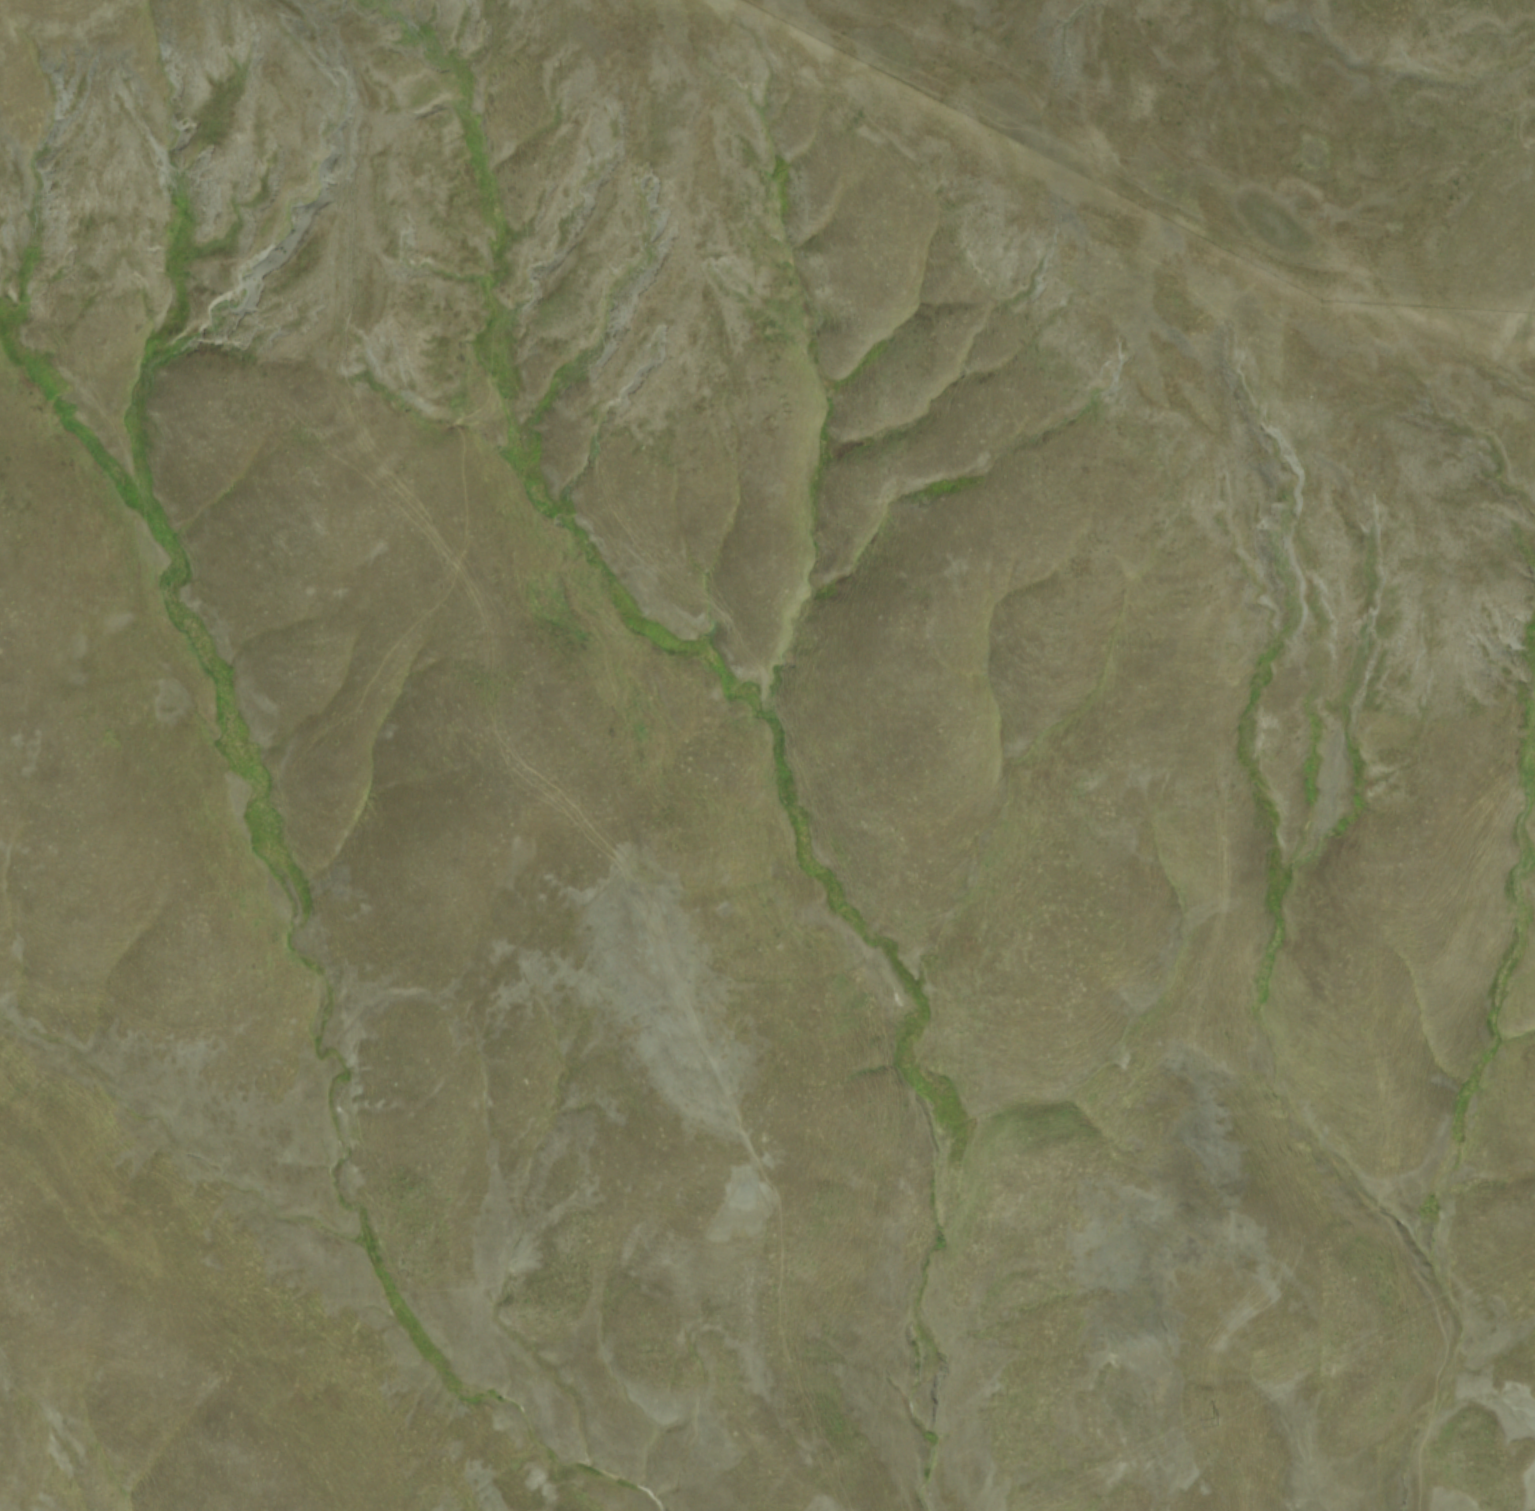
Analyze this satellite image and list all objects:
power tower: (1214, 1422)

